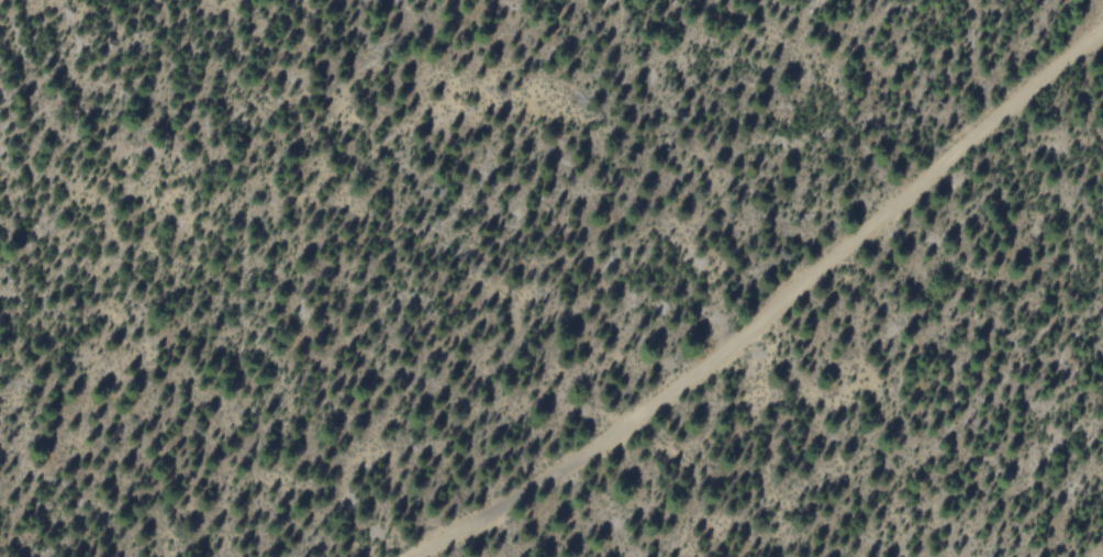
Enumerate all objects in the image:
road: (771, 313)

